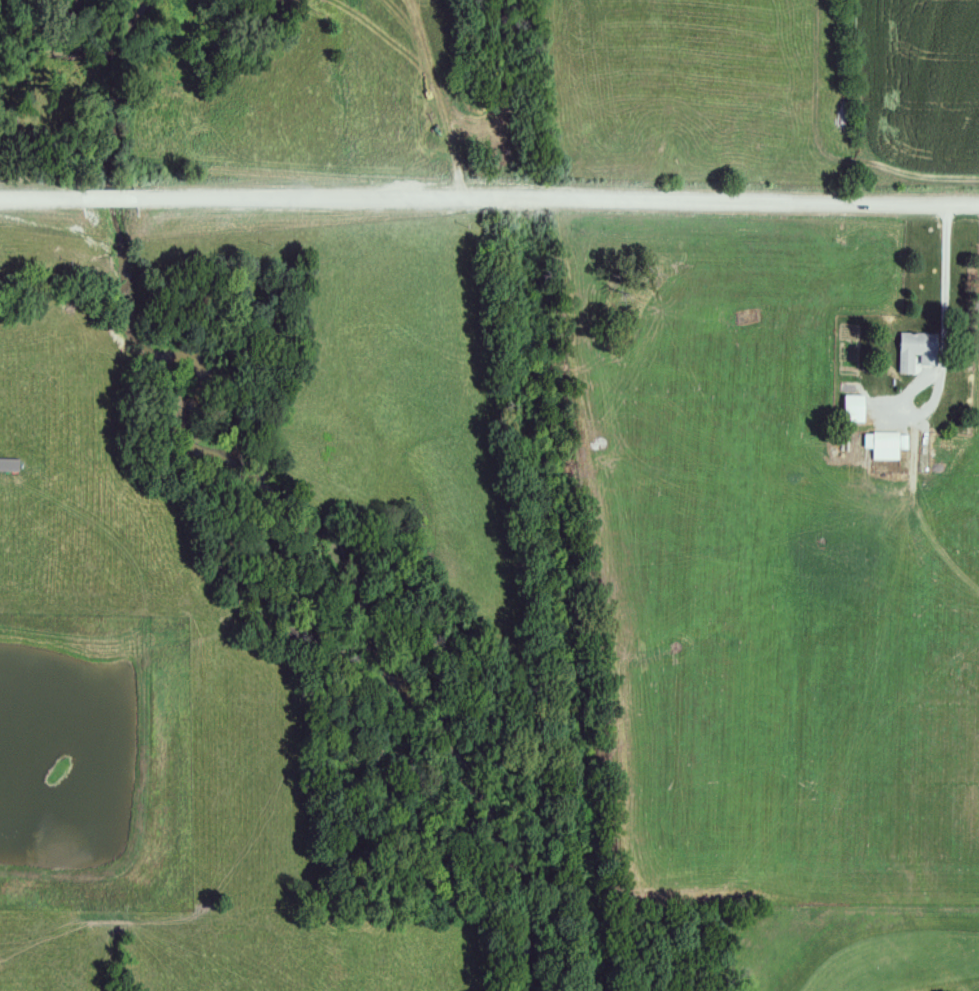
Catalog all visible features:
road: (489, 194)
building: (918, 352)
building: (855, 407)
building: (887, 446)
building: (11, 467)
park: (840, 949)

